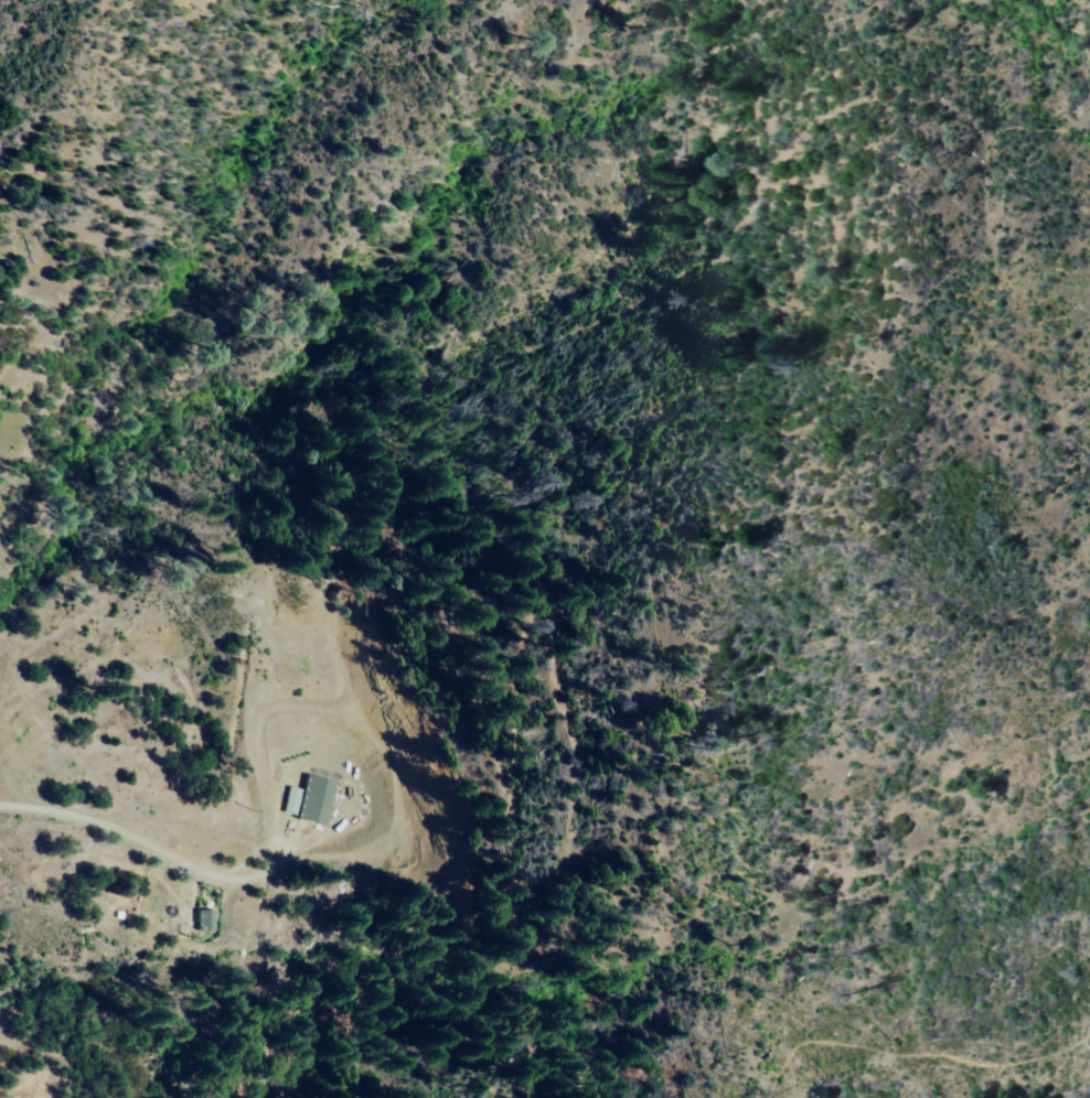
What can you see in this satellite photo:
building: (307, 799)
road: (116, 841)
building: (201, 919)

